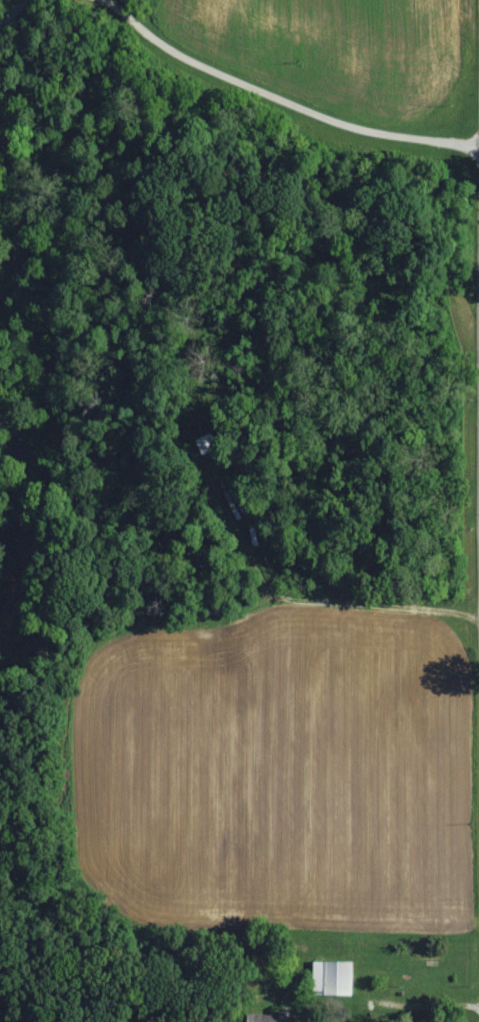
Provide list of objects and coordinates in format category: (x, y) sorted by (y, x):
building: (209, 443)
road: (307, 600)
building: (336, 978)
building: (266, 1018)

